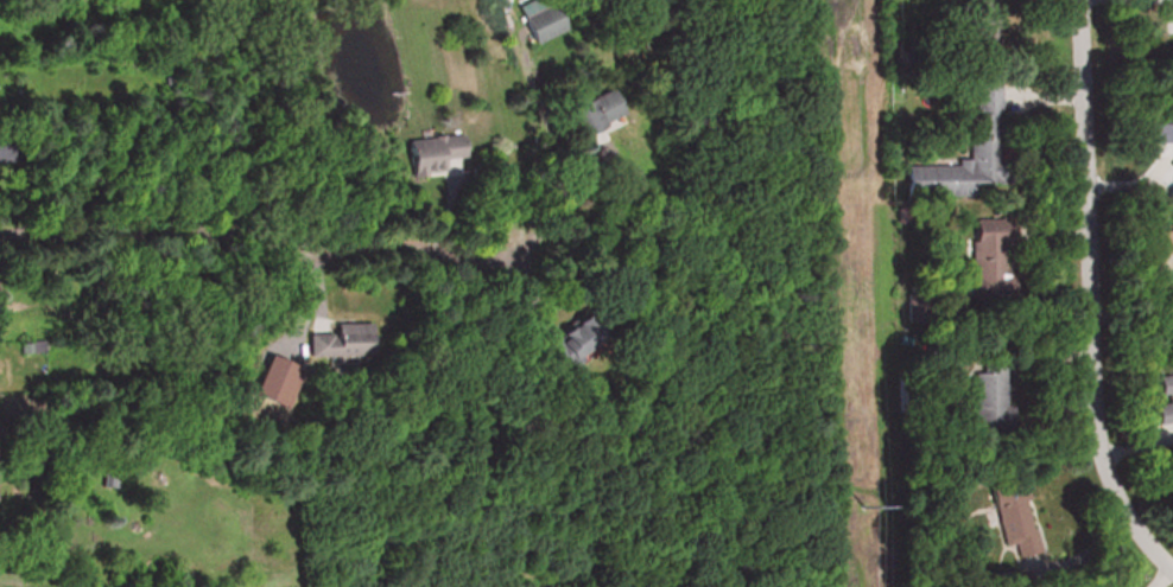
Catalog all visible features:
building: (981, 4)
building: (1172, 21)
building: (541, 23)
building: (591, 114)
building: (971, 143)
building: (1172, 143)
building: (432, 154)
building: (1162, 184)
building: (1159, 240)
building: (983, 249)
road: (317, 256)
road: (1084, 299)
building: (569, 333)
building: (337, 338)
building: (979, 378)
building: (1161, 396)
power tower: (862, 505)

